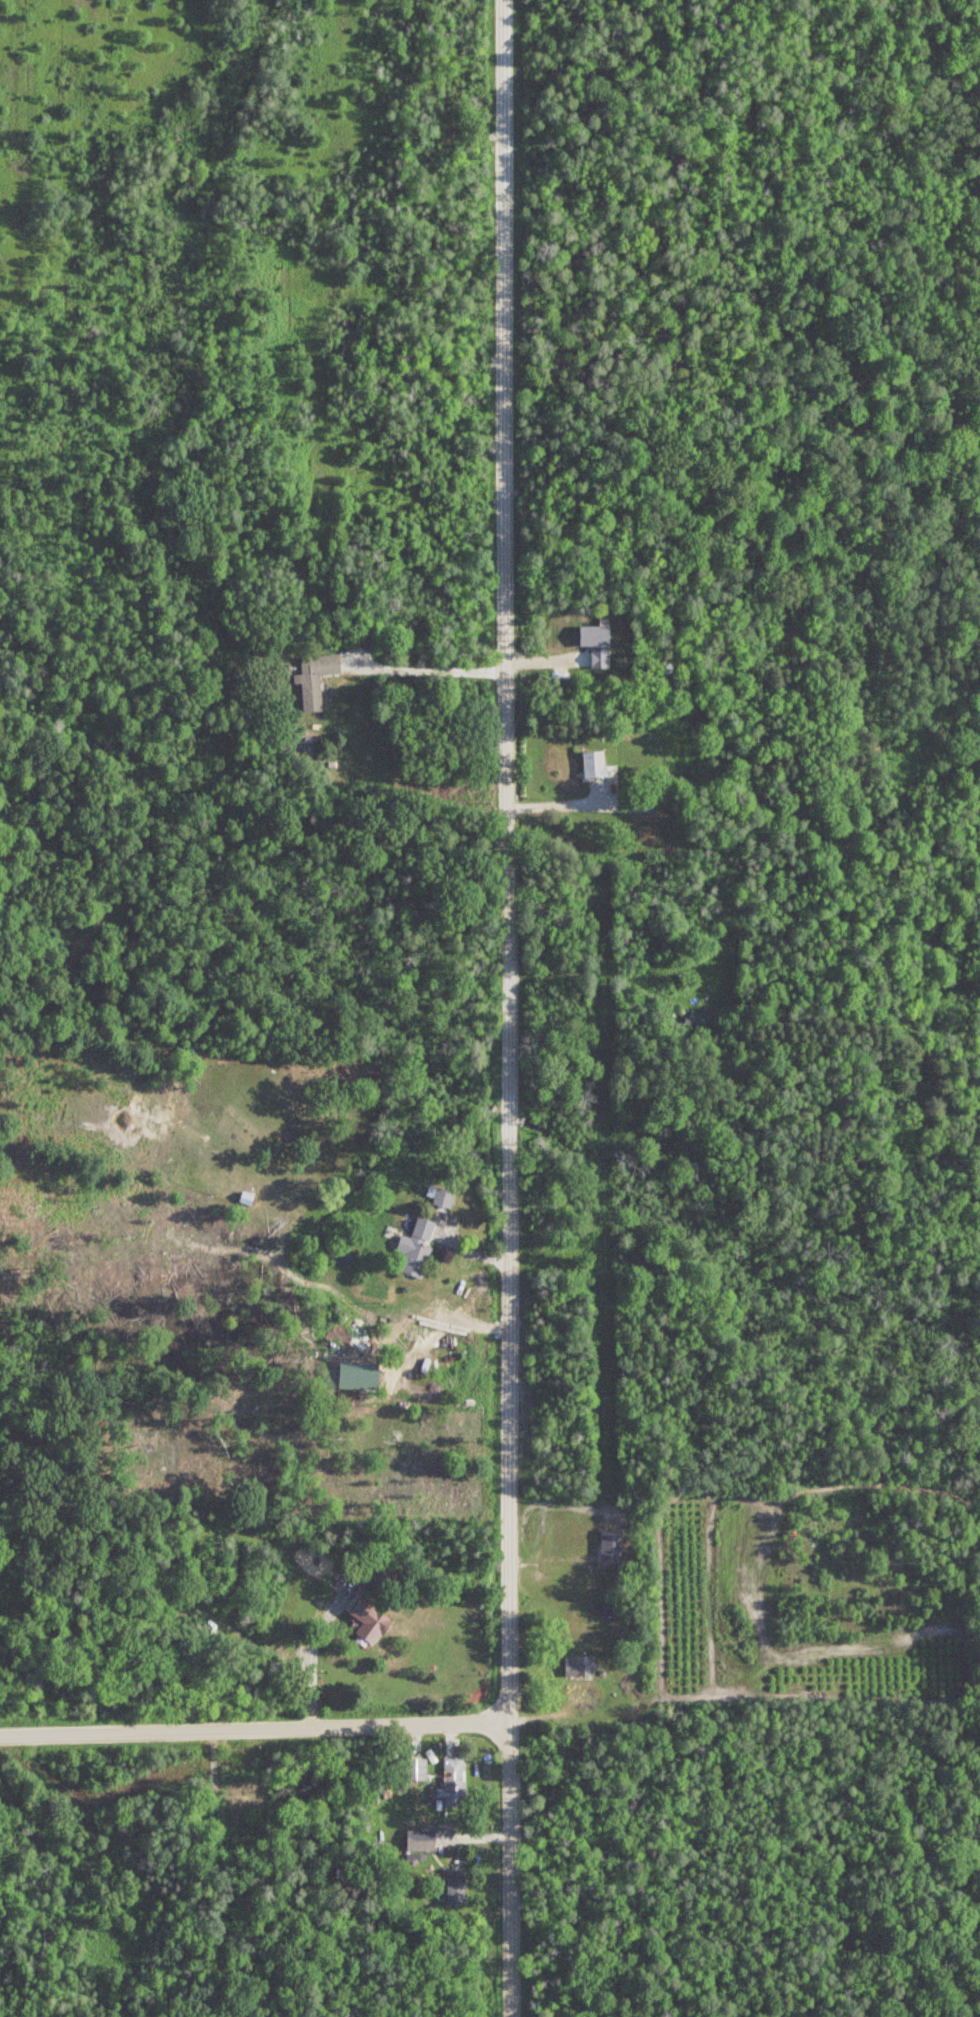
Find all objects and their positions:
road: (434, 669)
building: (316, 678)
building: (598, 768)
road: (560, 804)
building: (643, 805)
road: (507, 1008)
building: (248, 1196)
building: (444, 1198)
building: (417, 1249)
building: (371, 1623)
road: (312, 1665)
building: (580, 1666)
road: (254, 1731)
building: (416, 1769)
building: (455, 1782)
building: (456, 1887)

